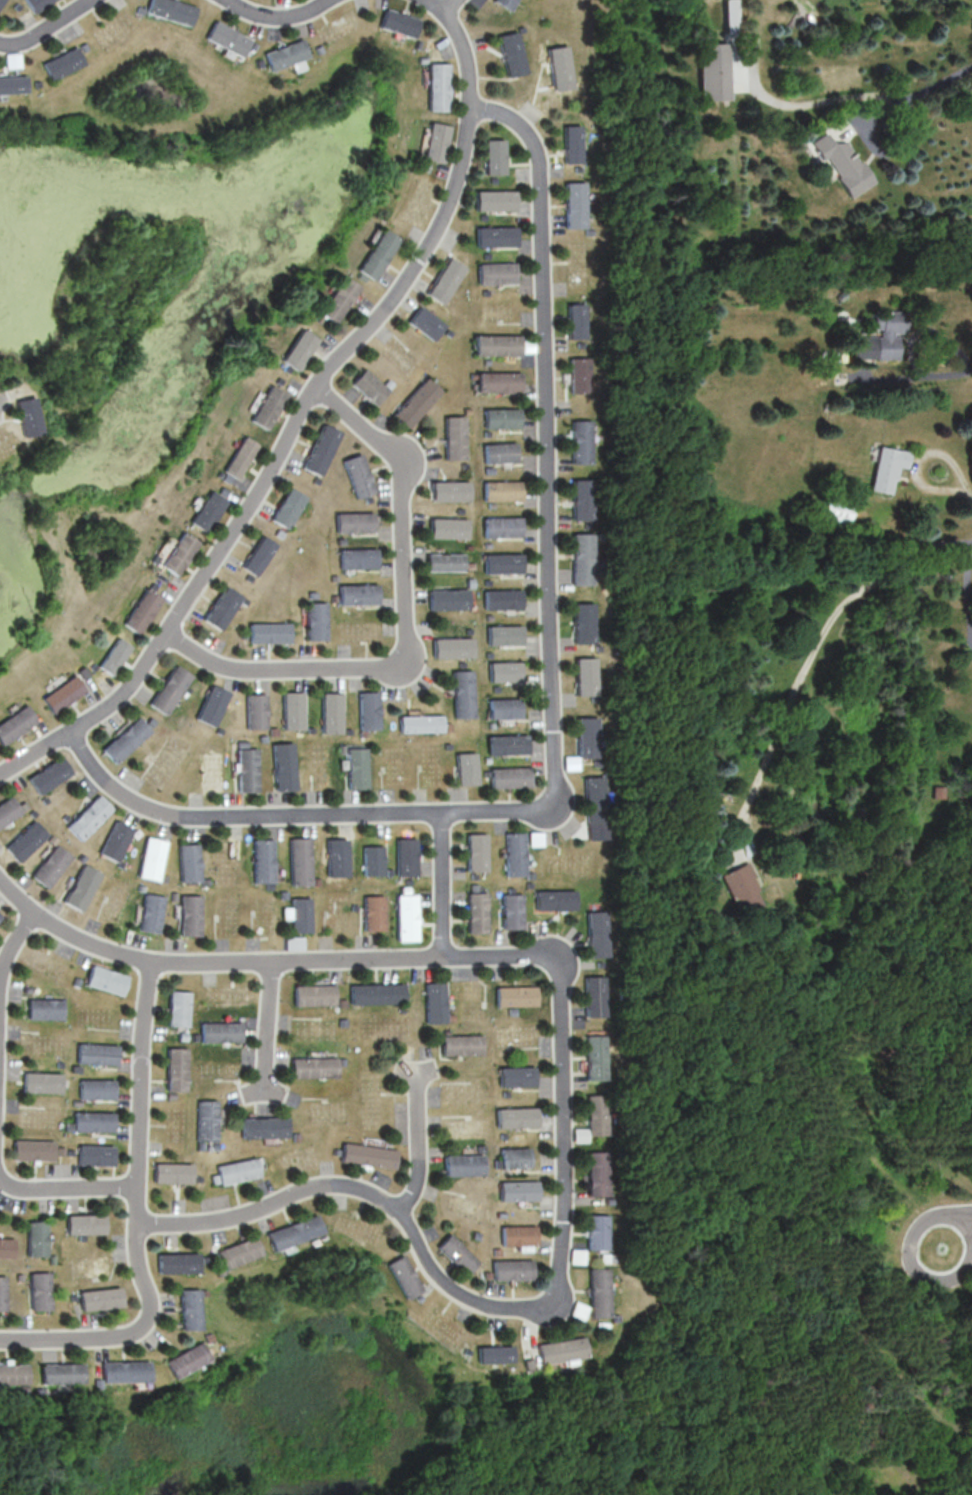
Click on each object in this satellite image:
building: (1, 1)
building: (507, 3)
building: (36, 4)
road: (449, 6)
building: (138, 10)
building: (170, 10)
road: (274, 16)
building: (728, 16)
building: (397, 22)
road: (44, 27)
building: (522, 28)
building: (226, 38)
building: (417, 44)
building: (251, 46)
building: (317, 49)
building: (284, 54)
building: (513, 54)
building: (421, 59)
building: (62, 63)
building: (257, 63)
building: (562, 67)
building: (712, 71)
road: (942, 78)
building: (12, 84)
building: (437, 86)
road: (805, 101)
building: (437, 142)
building: (574, 144)
building: (496, 157)
building: (842, 163)
building: (426, 168)
building: (494, 180)
building: (497, 199)
building: (578, 204)
building: (484, 217)
building: (497, 236)
building: (377, 254)
building: (487, 255)
building: (582, 263)
building: (498, 272)
building: (361, 277)
building: (446, 279)
building: (486, 292)
building: (339, 299)
building: (578, 320)
building: (426, 323)
building: (449, 332)
building: (881, 337)
building: (497, 344)
building: (581, 344)
road: (911, 345)
building: (300, 349)
building: (486, 361)
building: (288, 368)
building: (583, 375)
building: (280, 380)
building: (500, 381)
building: (391, 383)
building: (372, 386)
road: (0, 399)
building: (418, 403)
building: (269, 406)
building: (468, 411)
road: (300, 412)
building: (28, 416)
building: (502, 417)
building: (487, 433)
building: (457, 437)
building: (582, 441)
building: (323, 449)
building: (501, 452)
building: (242, 456)
road: (918, 456)
building: (466, 465)
building: (888, 468)
building: (490, 469)
building: (361, 475)
building: (227, 477)
building: (318, 480)
road: (970, 487)
building: (452, 490)
building: (503, 490)
building: (223, 491)
building: (370, 498)
building: (581, 498)
building: (493, 505)
building: (291, 508)
building: (210, 510)
building: (462, 510)
building: (836, 512)
building: (356, 521)
building: (588, 526)
building: (451, 527)
building: (504, 527)
building: (282, 533)
building: (342, 540)
road: (957, 542)
building: (489, 544)
building: (471, 546)
building: (182, 552)
building: (261, 555)
building: (359, 558)
building: (585, 558)
building: (447, 562)
building: (505, 563)
building: (251, 577)
building: (335, 578)
building: (489, 581)
building: (473, 582)
building: (155, 586)
building: (359, 593)
building: (313, 594)
building: (505, 598)
building: (335, 599)
building: (450, 599)
building: (246, 601)
building: (225, 607)
building: (144, 610)
building: (491, 616)
building: (317, 621)
building: (586, 623)
road: (406, 626)
building: (470, 630)
building: (271, 632)
building: (506, 634)
building: (454, 647)
building: (115, 655)
building: (490, 655)
building: (463, 664)
building: (94, 666)
building: (506, 671)
building: (85, 672)
road: (803, 672)
building: (586, 676)
building: (172, 689)
building: (189, 689)
road: (551, 692)
building: (64, 693)
building: (463, 693)
building: (213, 704)
building: (504, 707)
building: (257, 710)
building: (293, 710)
building: (368, 710)
building: (331, 712)
building: (153, 721)
building: (16, 723)
building: (420, 723)
building: (492, 725)
building: (220, 730)
building: (311, 730)
building: (274, 731)
building: (348, 731)
building: (361, 733)
building: (588, 737)
building: (263, 738)
building: (128, 739)
building: (242, 743)
building: (507, 744)
building: (445, 745)
building: (342, 749)
building: (485, 759)
building: (570, 762)
building: (283, 765)
building: (355, 768)
building: (247, 769)
building: (464, 769)
building: (484, 773)
building: (51, 775)
building: (508, 777)
building: (46, 799)
building: (24, 806)
building: (597, 808)
building: (8, 809)
building: (33, 812)
building: (66, 816)
building: (90, 817)
building: (533, 838)
building: (53, 839)
building: (26, 841)
building: (116, 841)
building: (474, 852)
building: (512, 853)
building: (403, 856)
building: (82, 857)
building: (335, 857)
building: (152, 858)
building: (262, 860)
building: (297, 860)
building: (369, 860)
building: (189, 862)
building: (122, 863)
building: (52, 865)
building: (386, 871)
building: (528, 874)
building: (470, 875)
building: (163, 877)
building: (204, 881)
building: (315, 881)
building: (405, 881)
building: (526, 883)
road: (439, 884)
building: (268, 886)
building: (82, 887)
building: (142, 887)
building: (472, 887)
building: (742, 888)
building: (401, 889)
building: (509, 889)
building: (281, 894)
building: (174, 896)
building: (554, 899)
building: (352, 907)
building: (510, 911)
building: (152, 912)
building: (371, 913)
building: (475, 913)
building: (190, 915)
building: (298, 915)
building: (0, 916)
building: (404, 916)
building: (597, 933)
road: (13, 939)
building: (293, 942)
building: (107, 980)
building: (76, 982)
building: (26, 988)
building: (375, 993)
building: (313, 994)
building: (516, 995)
building: (594, 996)
building: (339, 1002)
building: (433, 1002)
building: (44, 1008)
building: (179, 1008)
building: (401, 1009)
building: (511, 1011)
building: (449, 1017)
building: (341, 1022)
road: (266, 1030)
building: (220, 1031)
building: (446, 1031)
building: (182, 1036)
building: (195, 1036)
building: (462, 1044)
building: (97, 1053)
building: (595, 1056)
building: (341, 1061)
building: (58, 1063)
building: (313, 1067)
building: (75, 1068)
building: (176, 1068)
building: (516, 1075)
road: (560, 1080)
building: (41, 1082)
building: (96, 1088)
building: (505, 1093)
building: (170, 1095)
building: (76, 1101)
building: (596, 1114)
building: (517, 1117)
building: (93, 1120)
building: (206, 1120)
building: (68, 1126)
building: (265, 1127)
building: (580, 1134)
building: (503, 1135)
building: (296, 1136)
road: (417, 1141)
building: (200, 1145)
building: (482, 1148)
building: (33, 1149)
building: (60, 1150)
building: (70, 1152)
building: (95, 1154)
building: (368, 1154)
building: (515, 1156)
building: (466, 1164)
building: (238, 1170)
building: (172, 1172)
building: (597, 1172)
building: (198, 1178)
building: (215, 1178)
road: (18, 1187)
road: (88, 1188)
building: (519, 1190)
building: (501, 1213)
road: (137, 1219)
building: (86, 1223)
building: (294, 1231)
building: (598, 1231)
road: (957, 1234)
building: (477, 1235)
building: (520, 1235)
building: (38, 1237)
building: (83, 1237)
building: (7, 1247)
building: (497, 1250)
building: (239, 1252)
building: (457, 1254)
building: (577, 1256)
building: (54, 1258)
building: (179, 1262)
building: (512, 1268)
building: (220, 1272)
building: (487, 1274)
building: (22, 1276)
building: (401, 1276)
building: (42, 1290)
building: (598, 1291)
building: (203, 1292)
building: (4, 1293)
building: (74, 1297)
building: (101, 1298)
building: (416, 1298)
building: (189, 1309)
building: (577, 1310)
building: (615, 1318)
building: (205, 1337)
building: (559, 1349)
building: (463, 1351)
building: (491, 1353)
building: (184, 1359)
building: (524, 1365)
building: (123, 1371)
building: (60, 1372)
building: (13, 1373)
building: (94, 1382)
building: (23, 1387)
building: (38, 1392)

